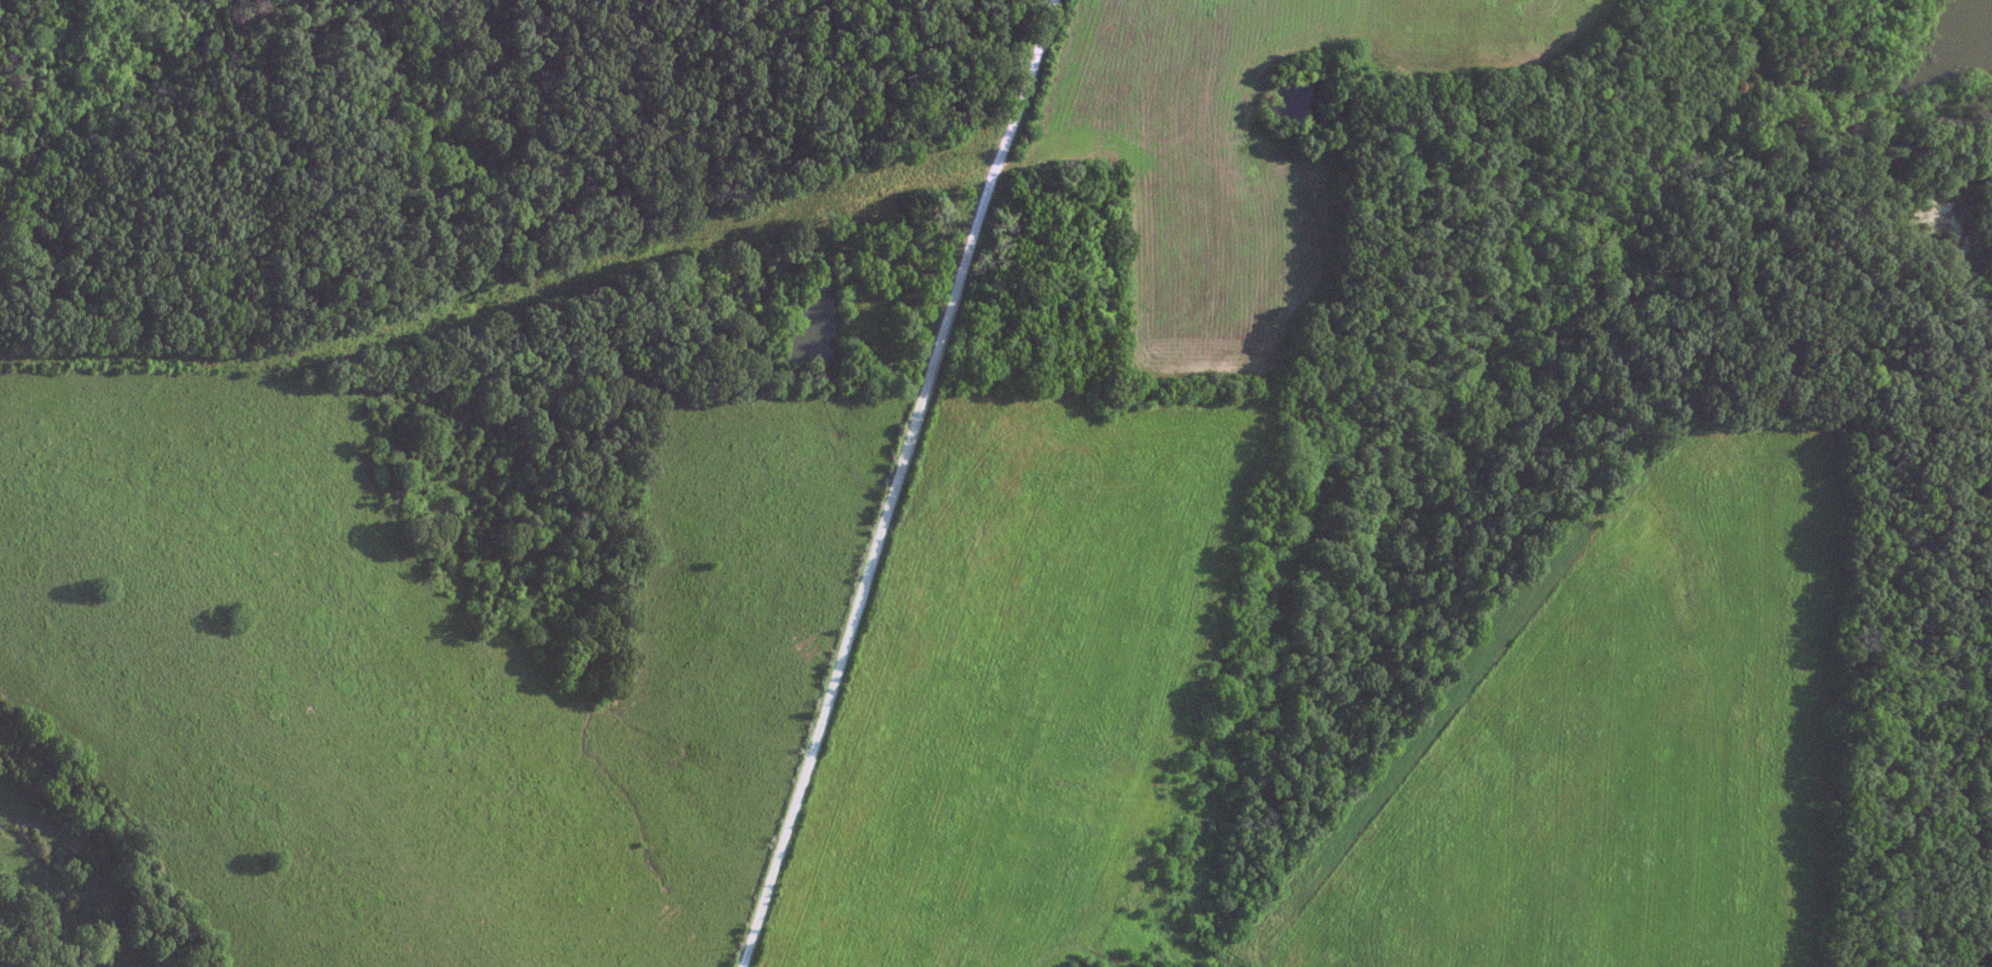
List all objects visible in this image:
road: (897, 482)

